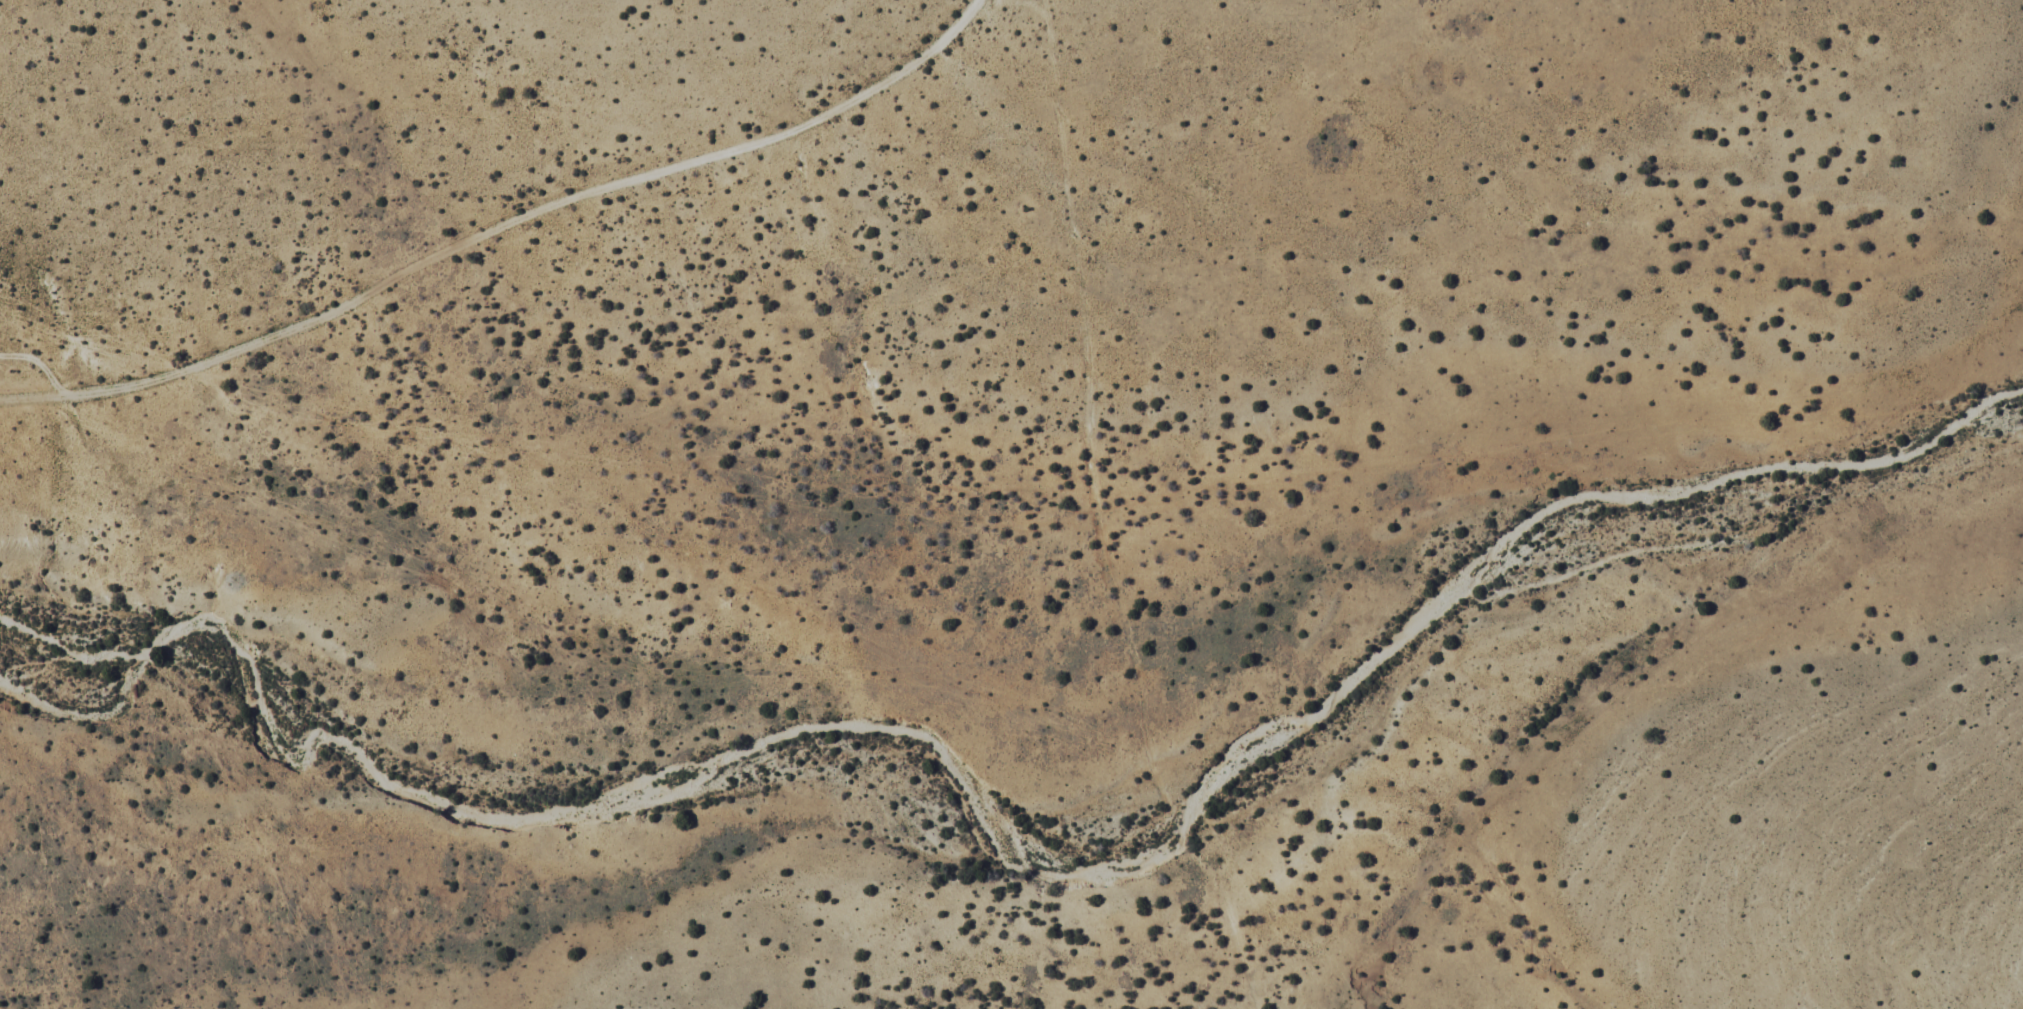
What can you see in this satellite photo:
road: (497, 220)
road: (1128, 505)

